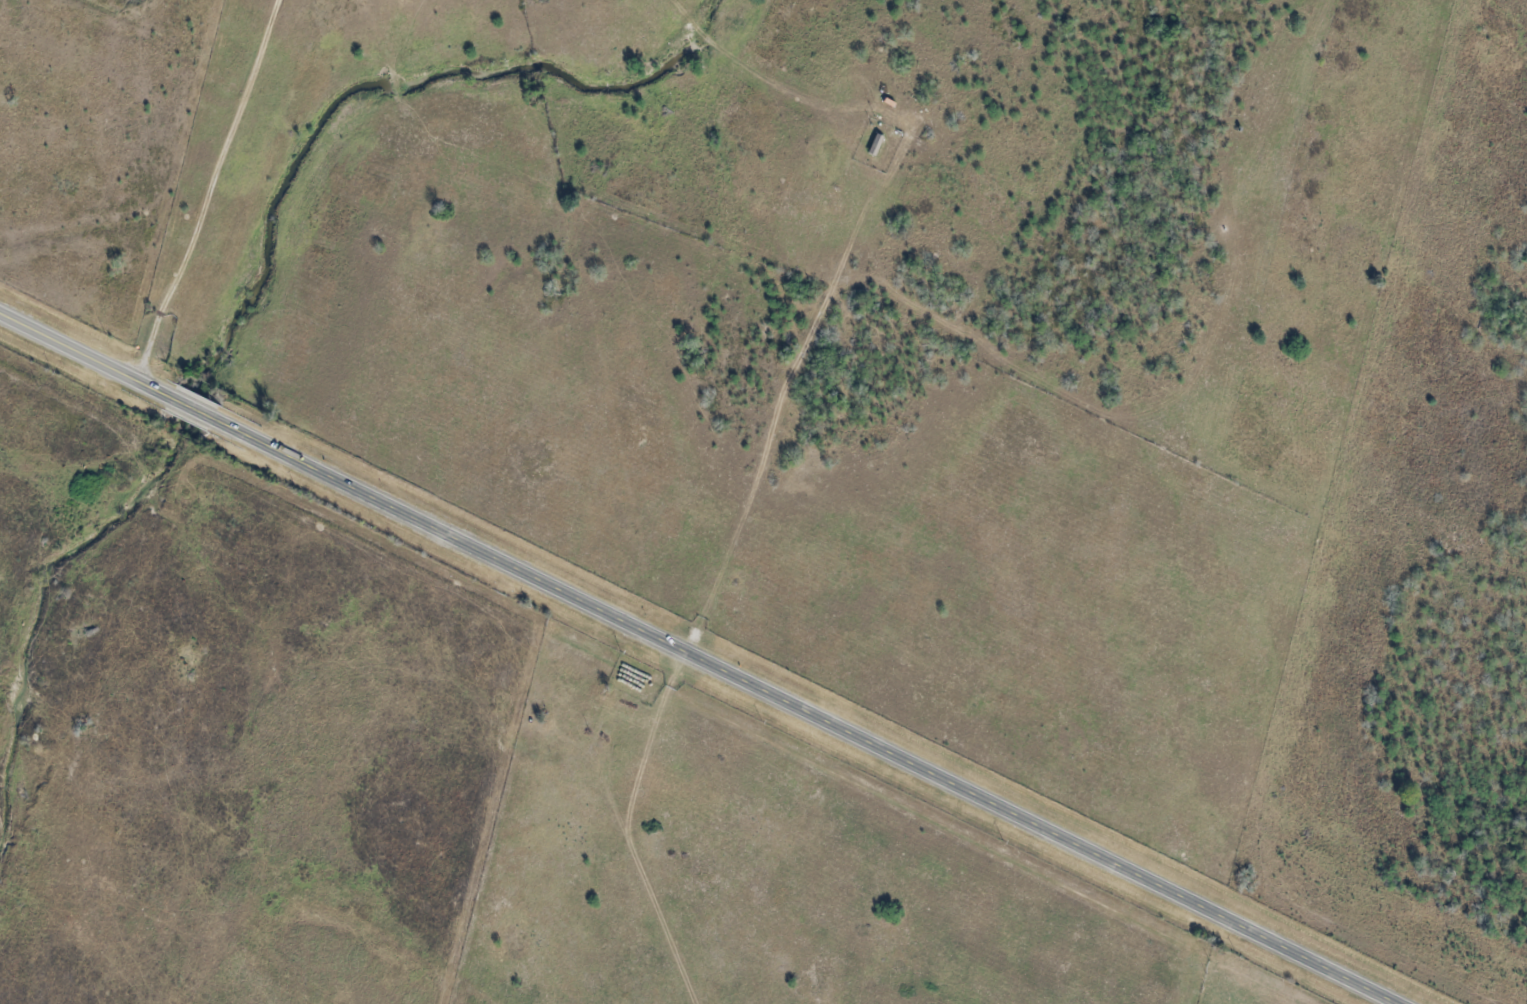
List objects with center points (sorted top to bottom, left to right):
building: (875, 137)
building: (838, 159)
road: (705, 655)

